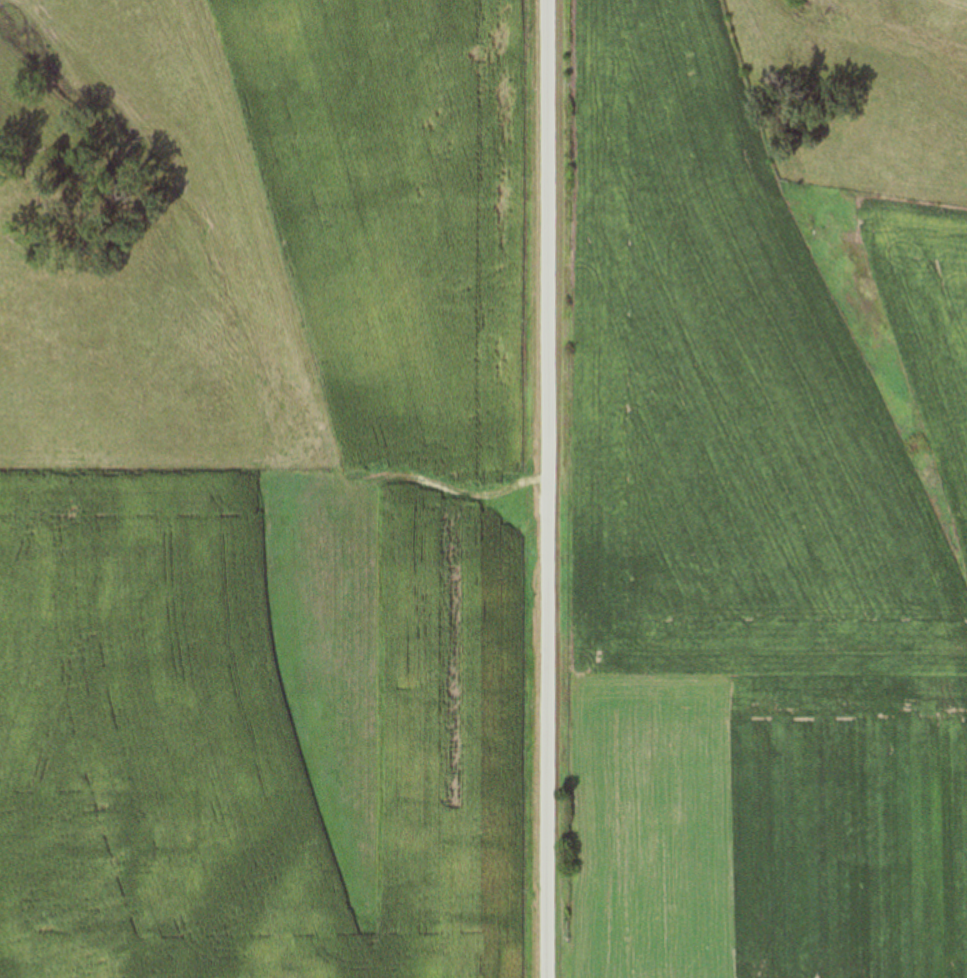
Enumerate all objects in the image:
road: (547, 489)

